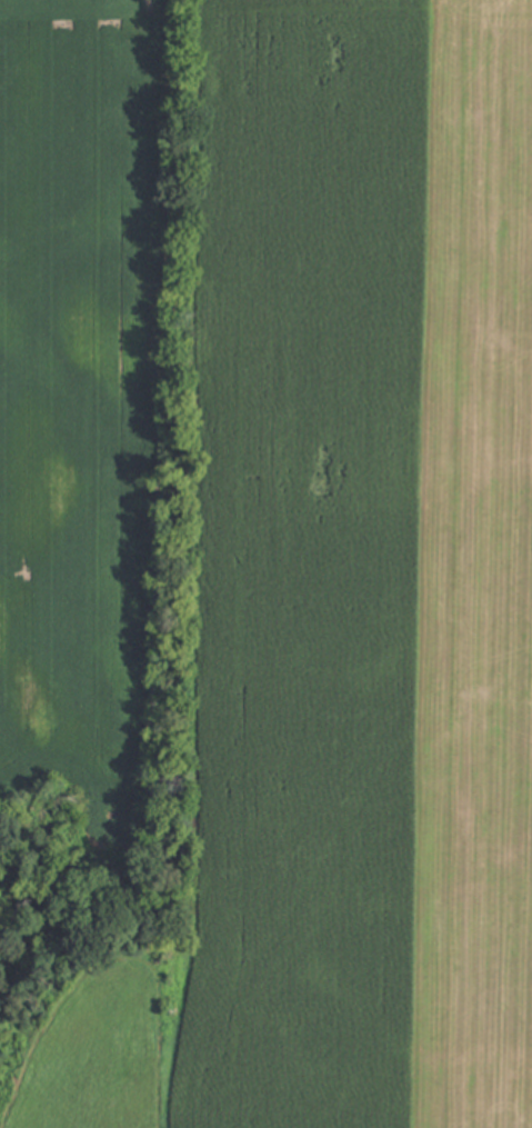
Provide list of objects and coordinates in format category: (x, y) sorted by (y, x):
crop: (89, 409)

